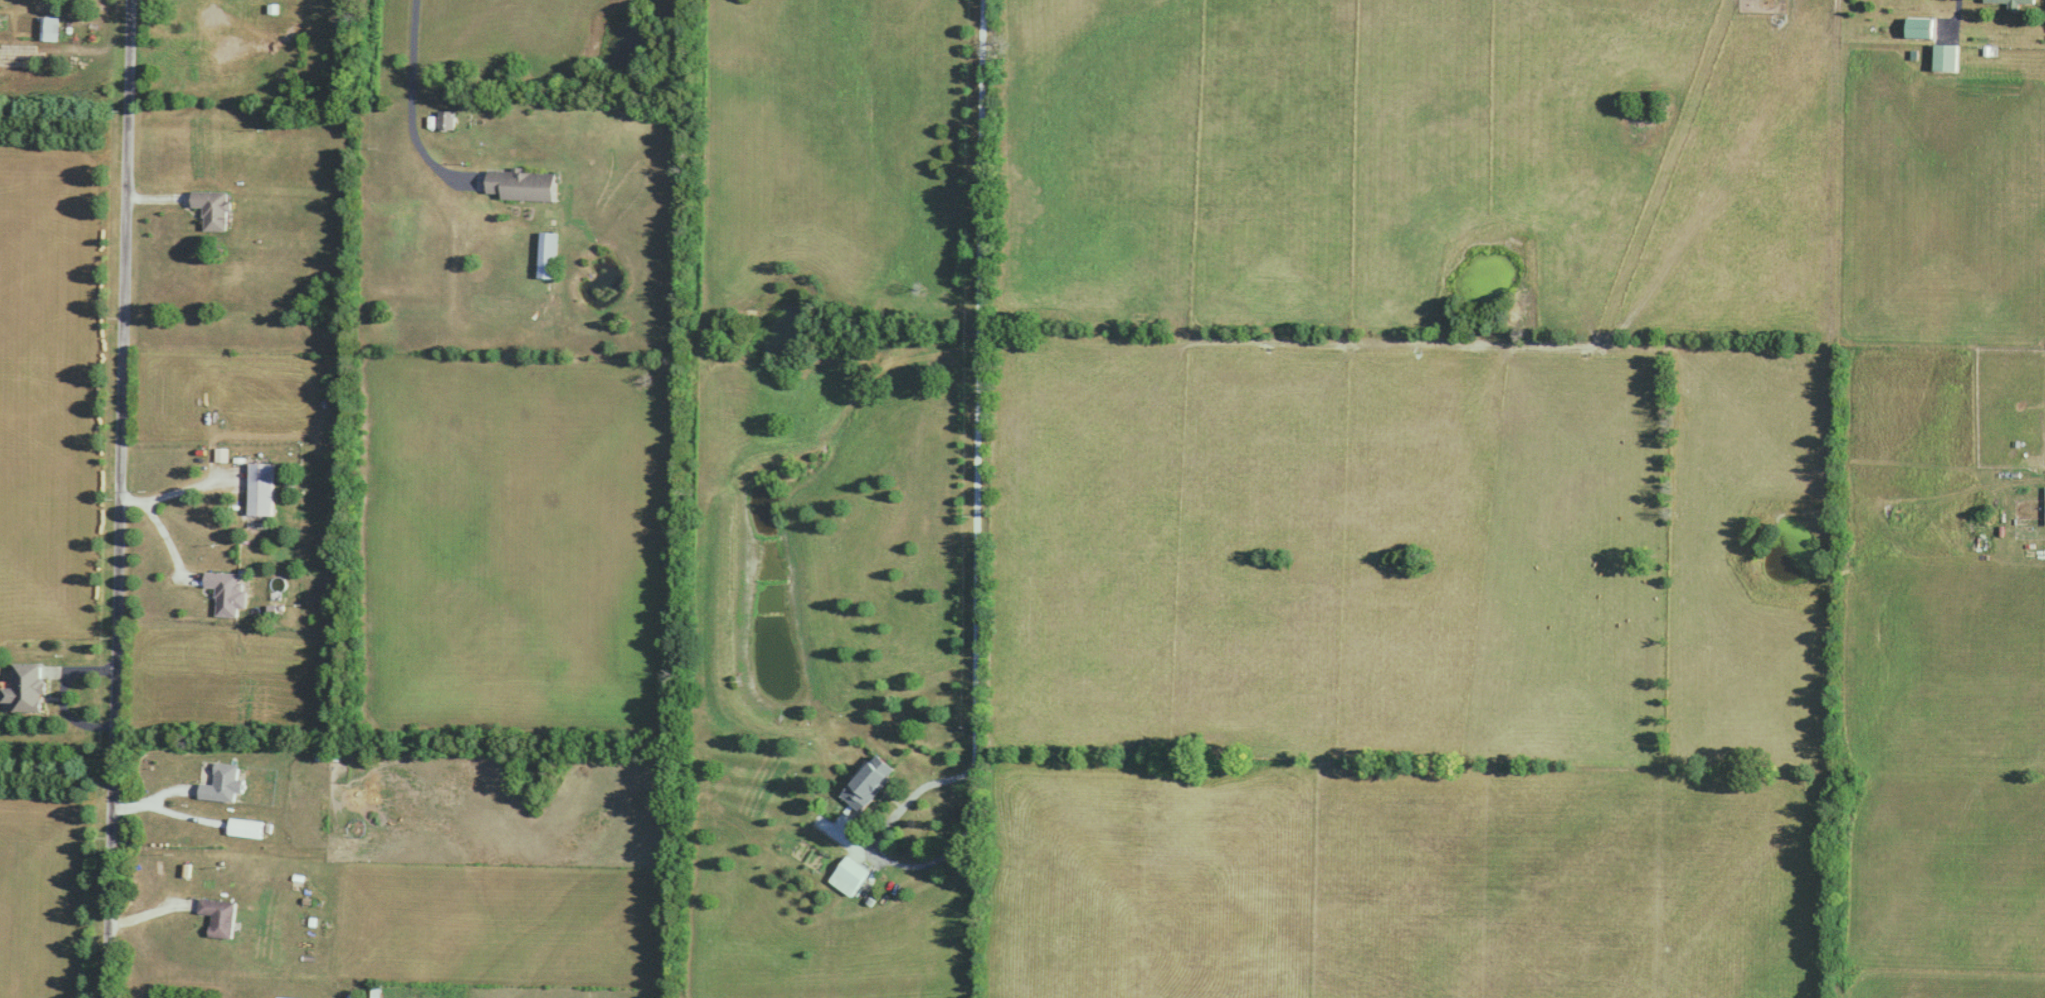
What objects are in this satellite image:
building: (2010, 3)
building: (52, 24)
building: (1918, 29)
building: (1944, 59)
road: (414, 105)
building: (445, 122)
building: (519, 187)
building: (214, 208)
building: (546, 257)
road: (979, 454)
building: (262, 488)
road: (171, 490)
road: (117, 498)
road: (162, 538)
building: (228, 591)
building: (28, 687)
building: (326, 755)
building: (225, 784)
building: (867, 785)
building: (248, 828)
building: (848, 877)
building: (222, 916)

